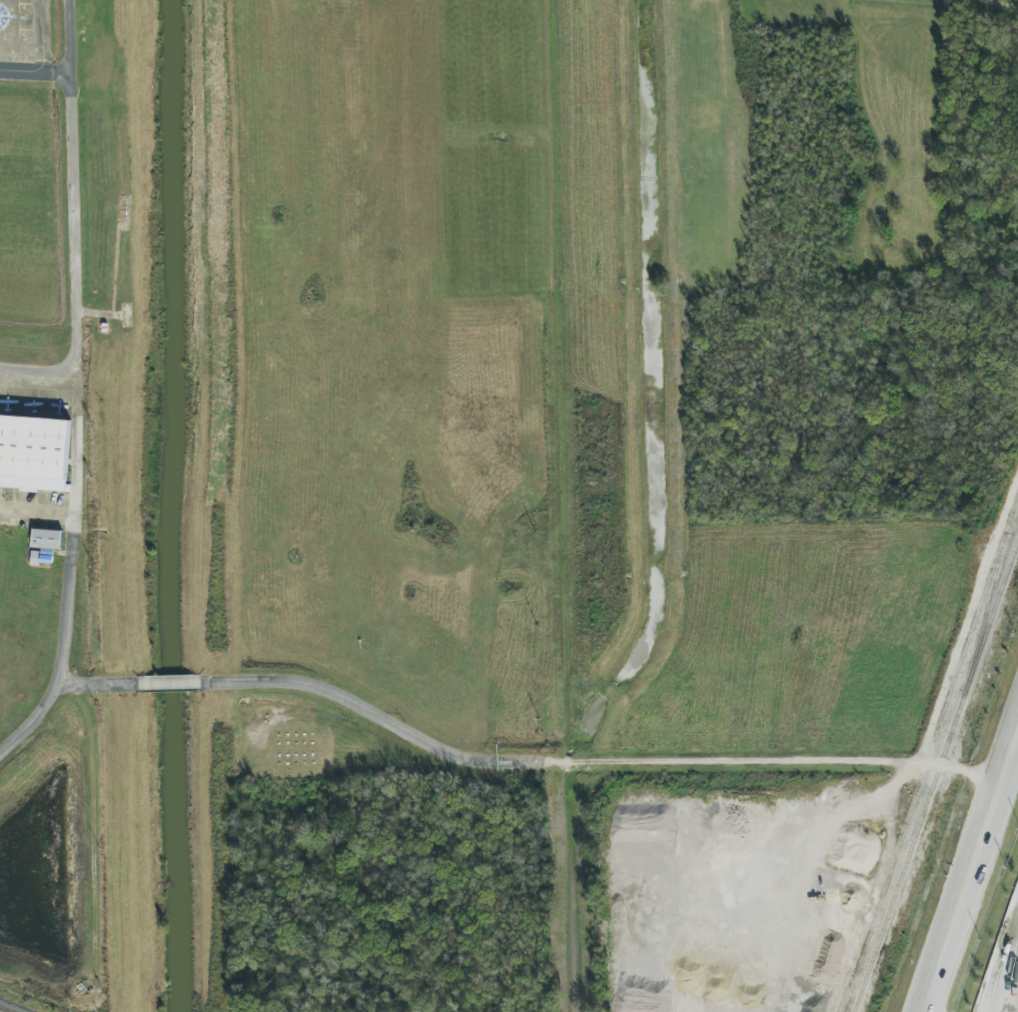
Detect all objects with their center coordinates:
airport apron: (25, 40)
road: (35, 70)
road: (72, 186)
road: (37, 370)
airport hangar: (34, 454)
building: (34, 454)
airport apron: (41, 454)
airport: (64, 482)
road: (566, 505)
building: (47, 539)
railway: (990, 595)
railway: (970, 639)
road: (1012, 758)
road: (676, 763)
railway: (935, 775)
road: (968, 870)
railway: (3, 1010)

